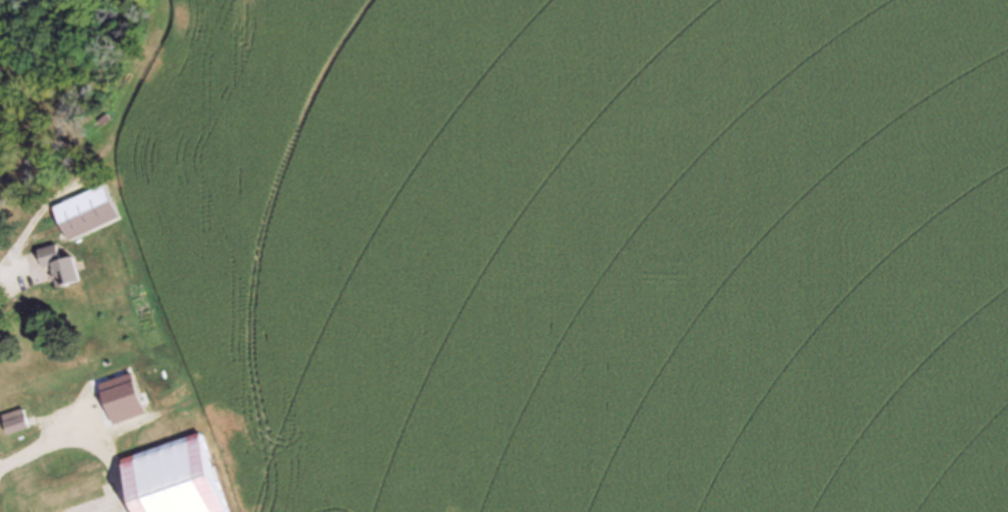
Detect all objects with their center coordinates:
building: (89, 211)
building: (62, 266)
road: (17, 286)
building: (113, 396)
building: (53, 398)
building: (16, 420)
building: (177, 477)
building: (82, 495)

